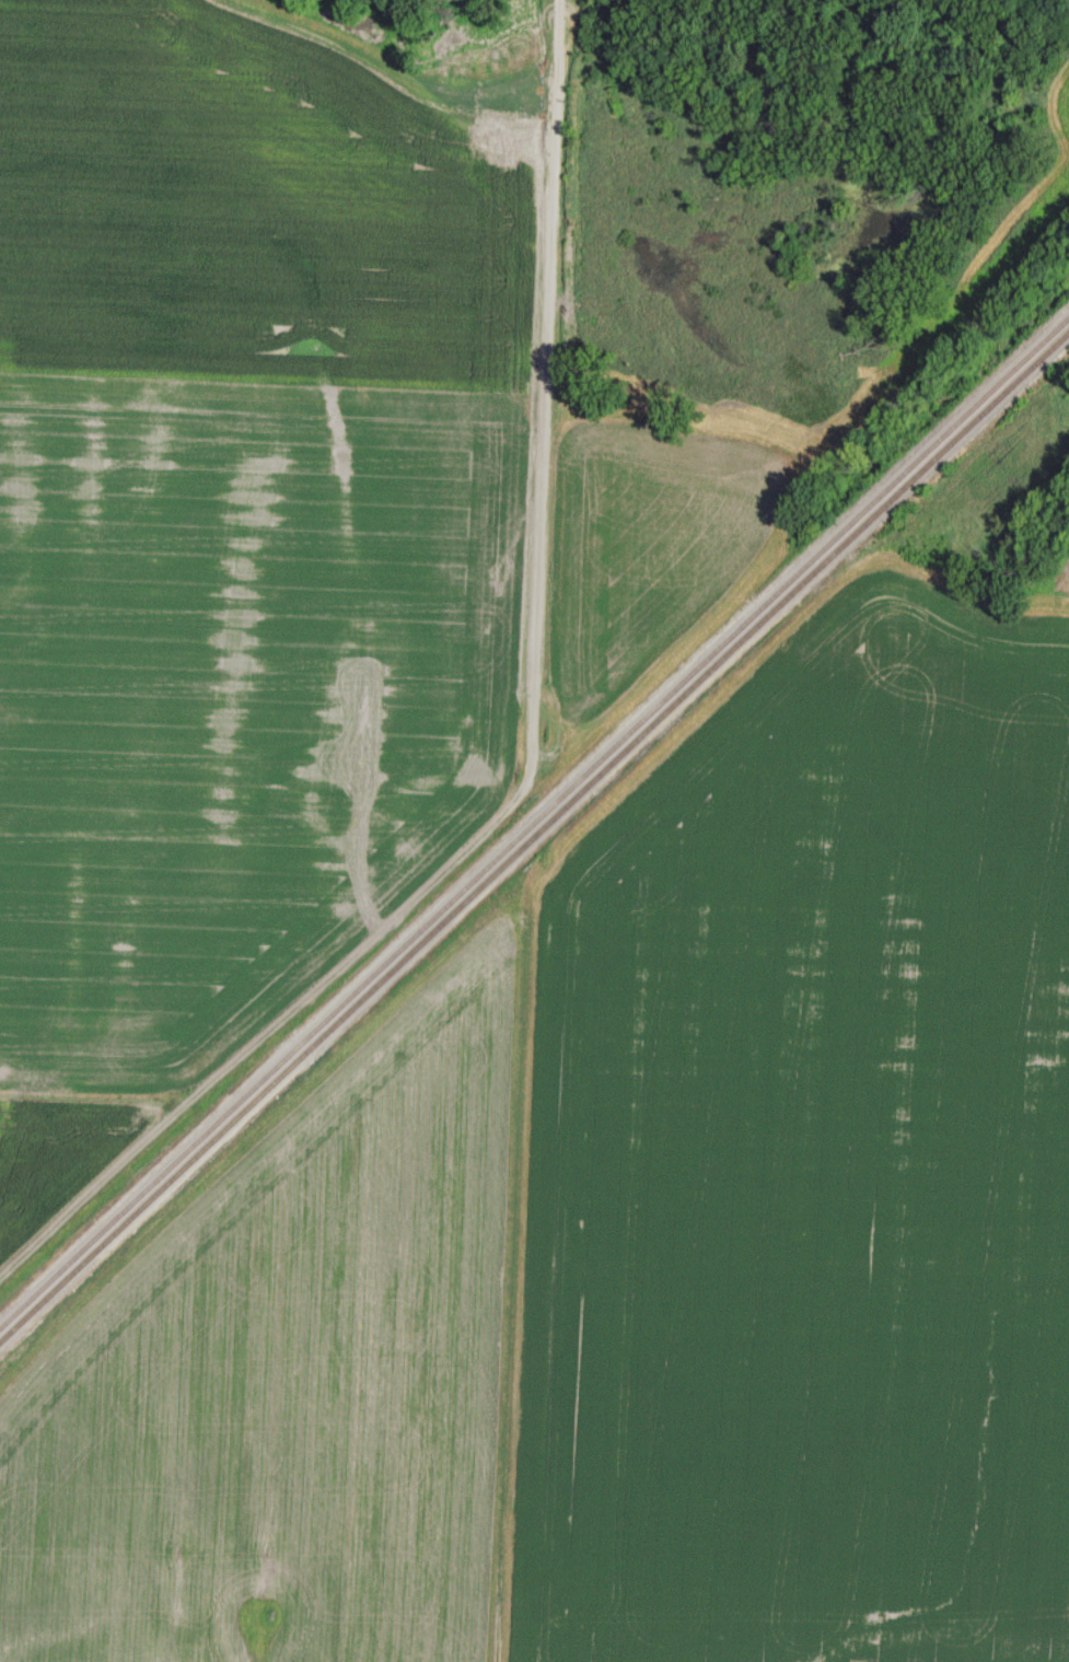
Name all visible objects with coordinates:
road: (533, 752)
railway: (534, 825)
railway: (538, 847)

